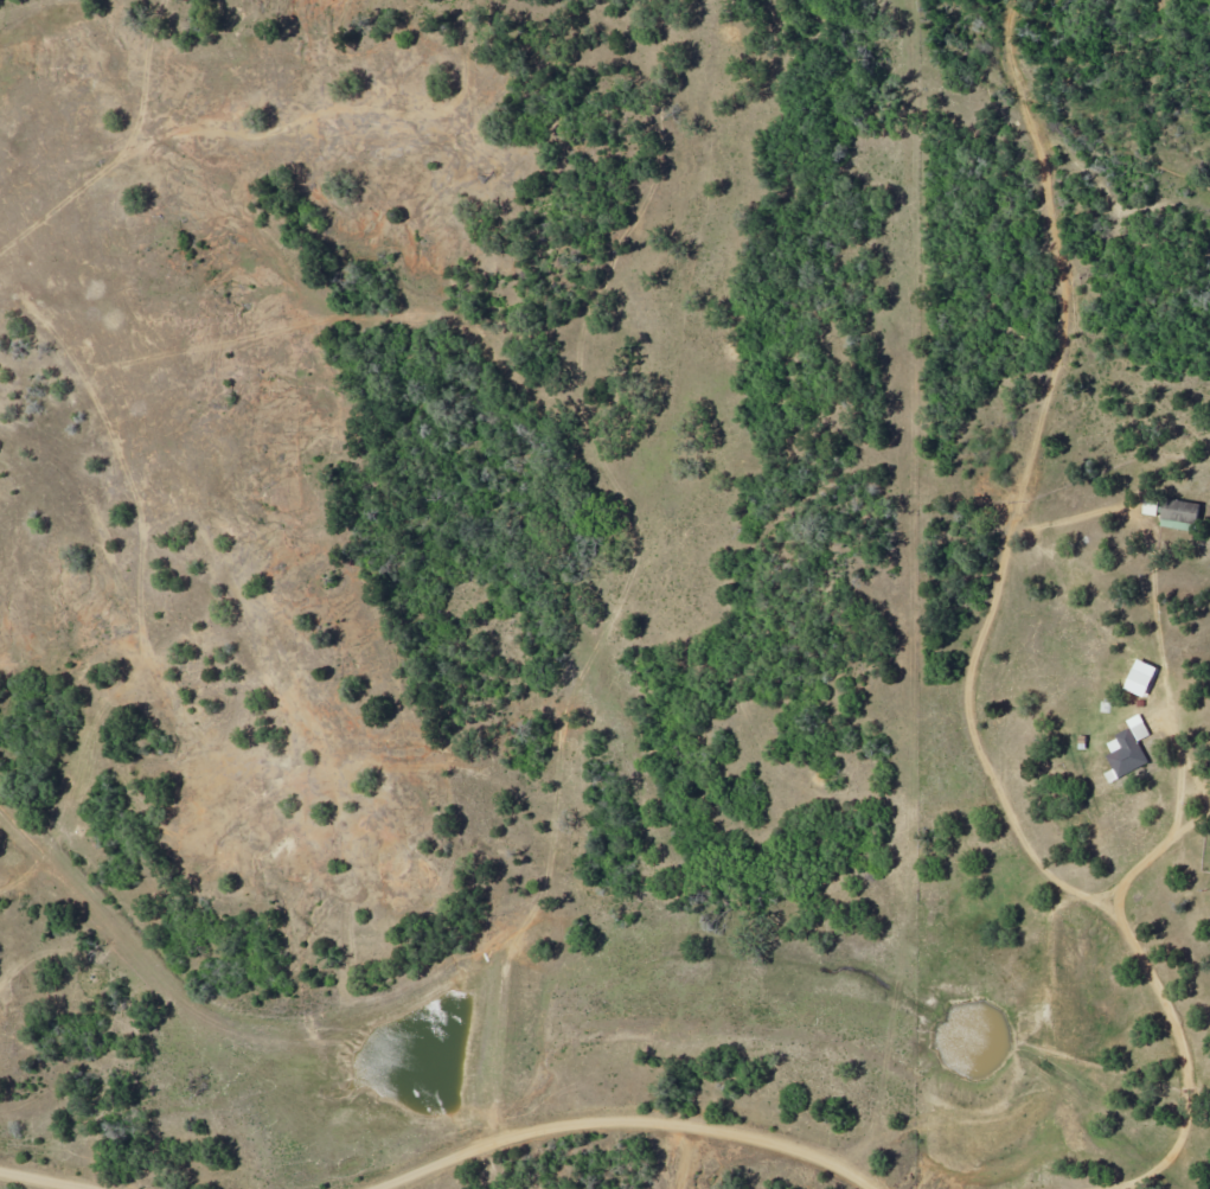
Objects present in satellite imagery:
building: (1150, 507)
building: (1179, 513)
building: (1140, 678)
building: (1127, 749)
road: (524, 1011)

